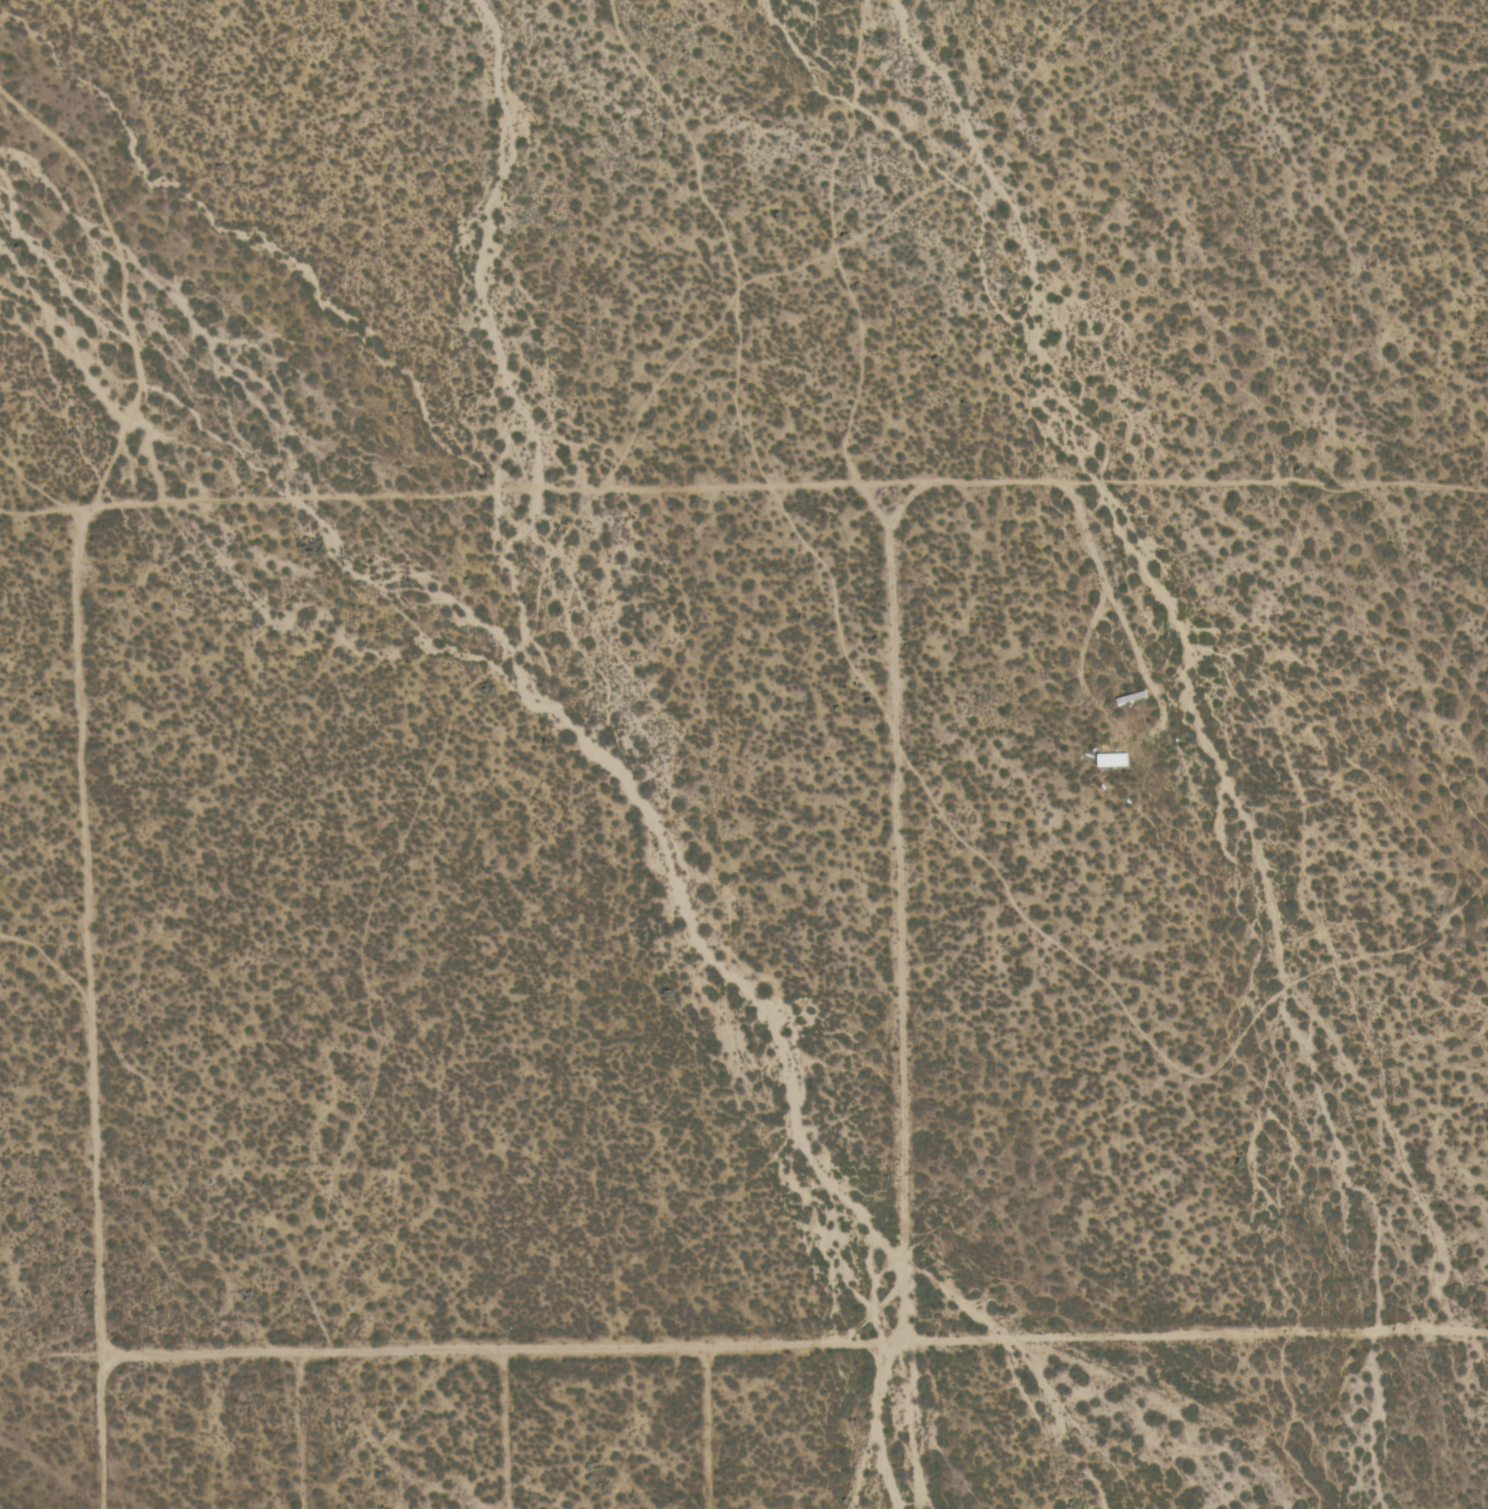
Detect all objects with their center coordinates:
building: (1112, 761)
road: (86, 932)
road: (899, 1002)
road: (1330, 1463)

